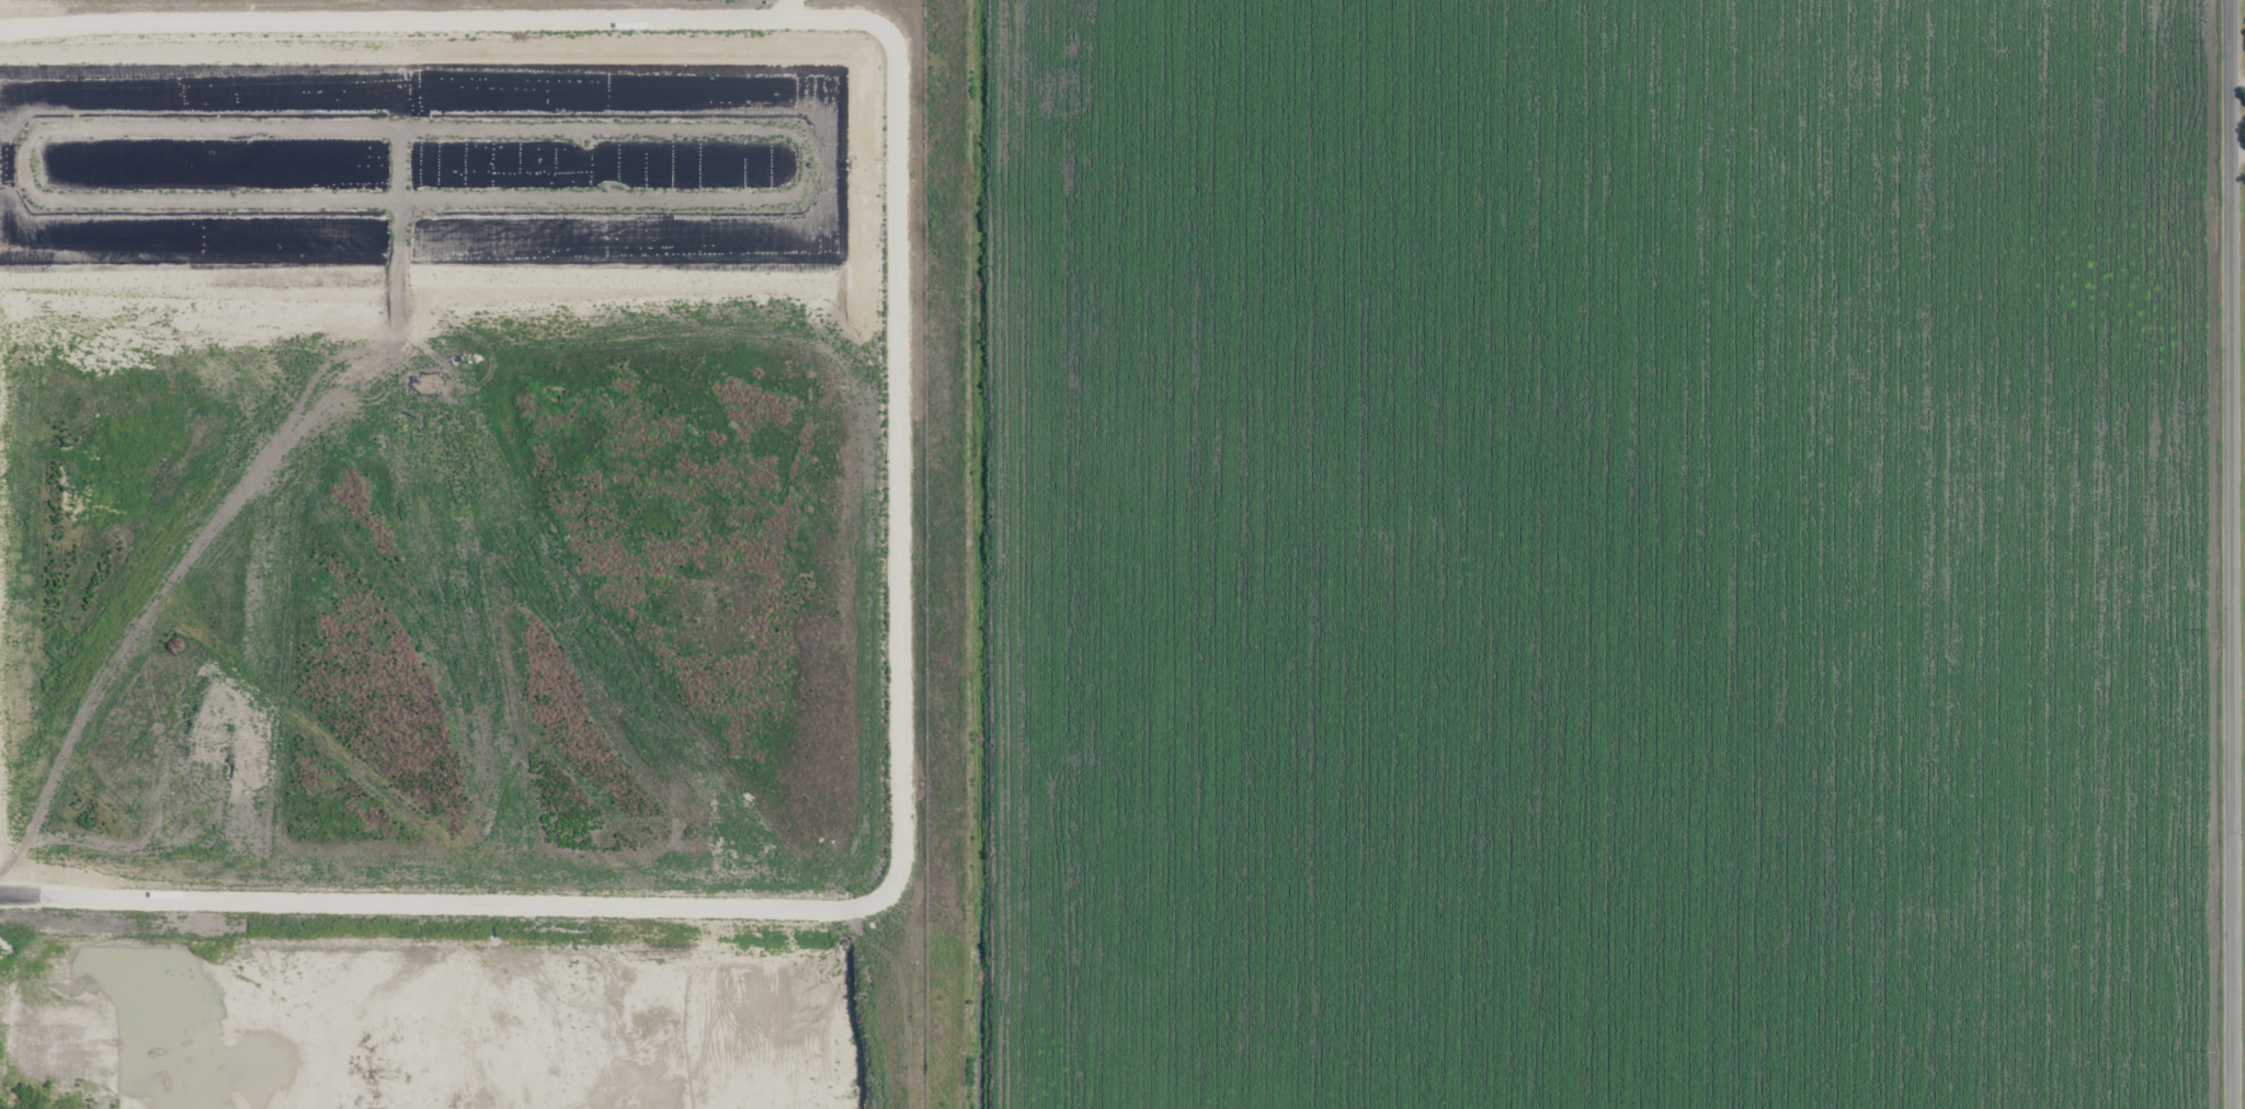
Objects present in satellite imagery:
road: (2227, 554)

